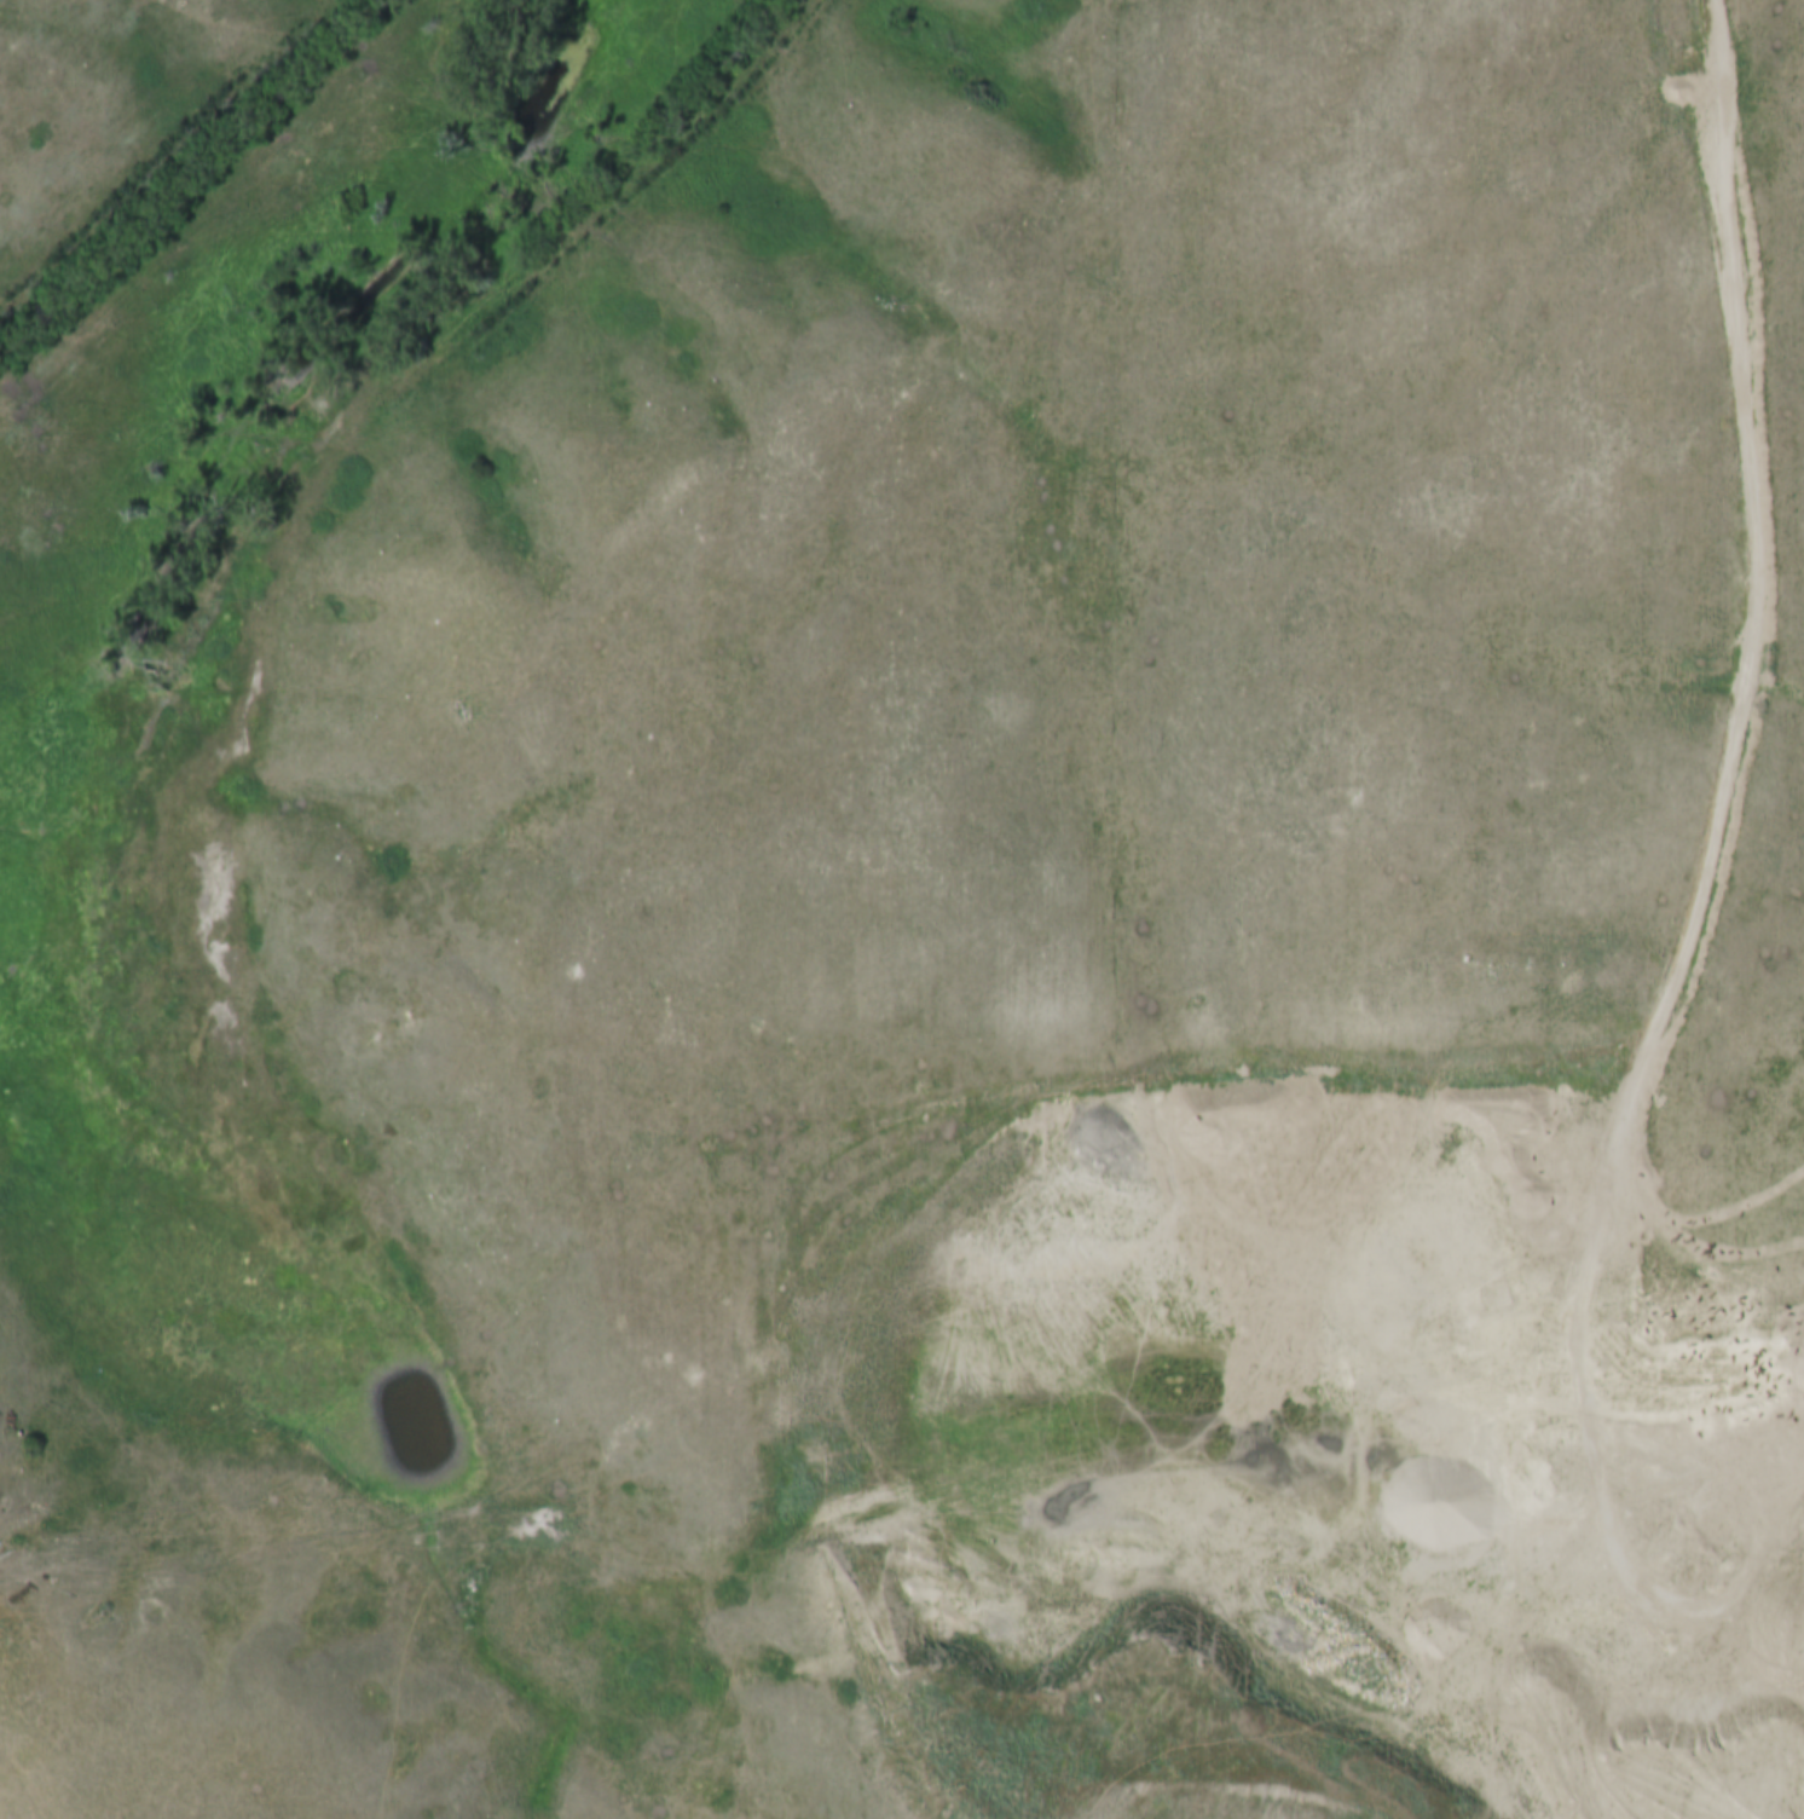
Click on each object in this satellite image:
quarry: (1295, 1471)

